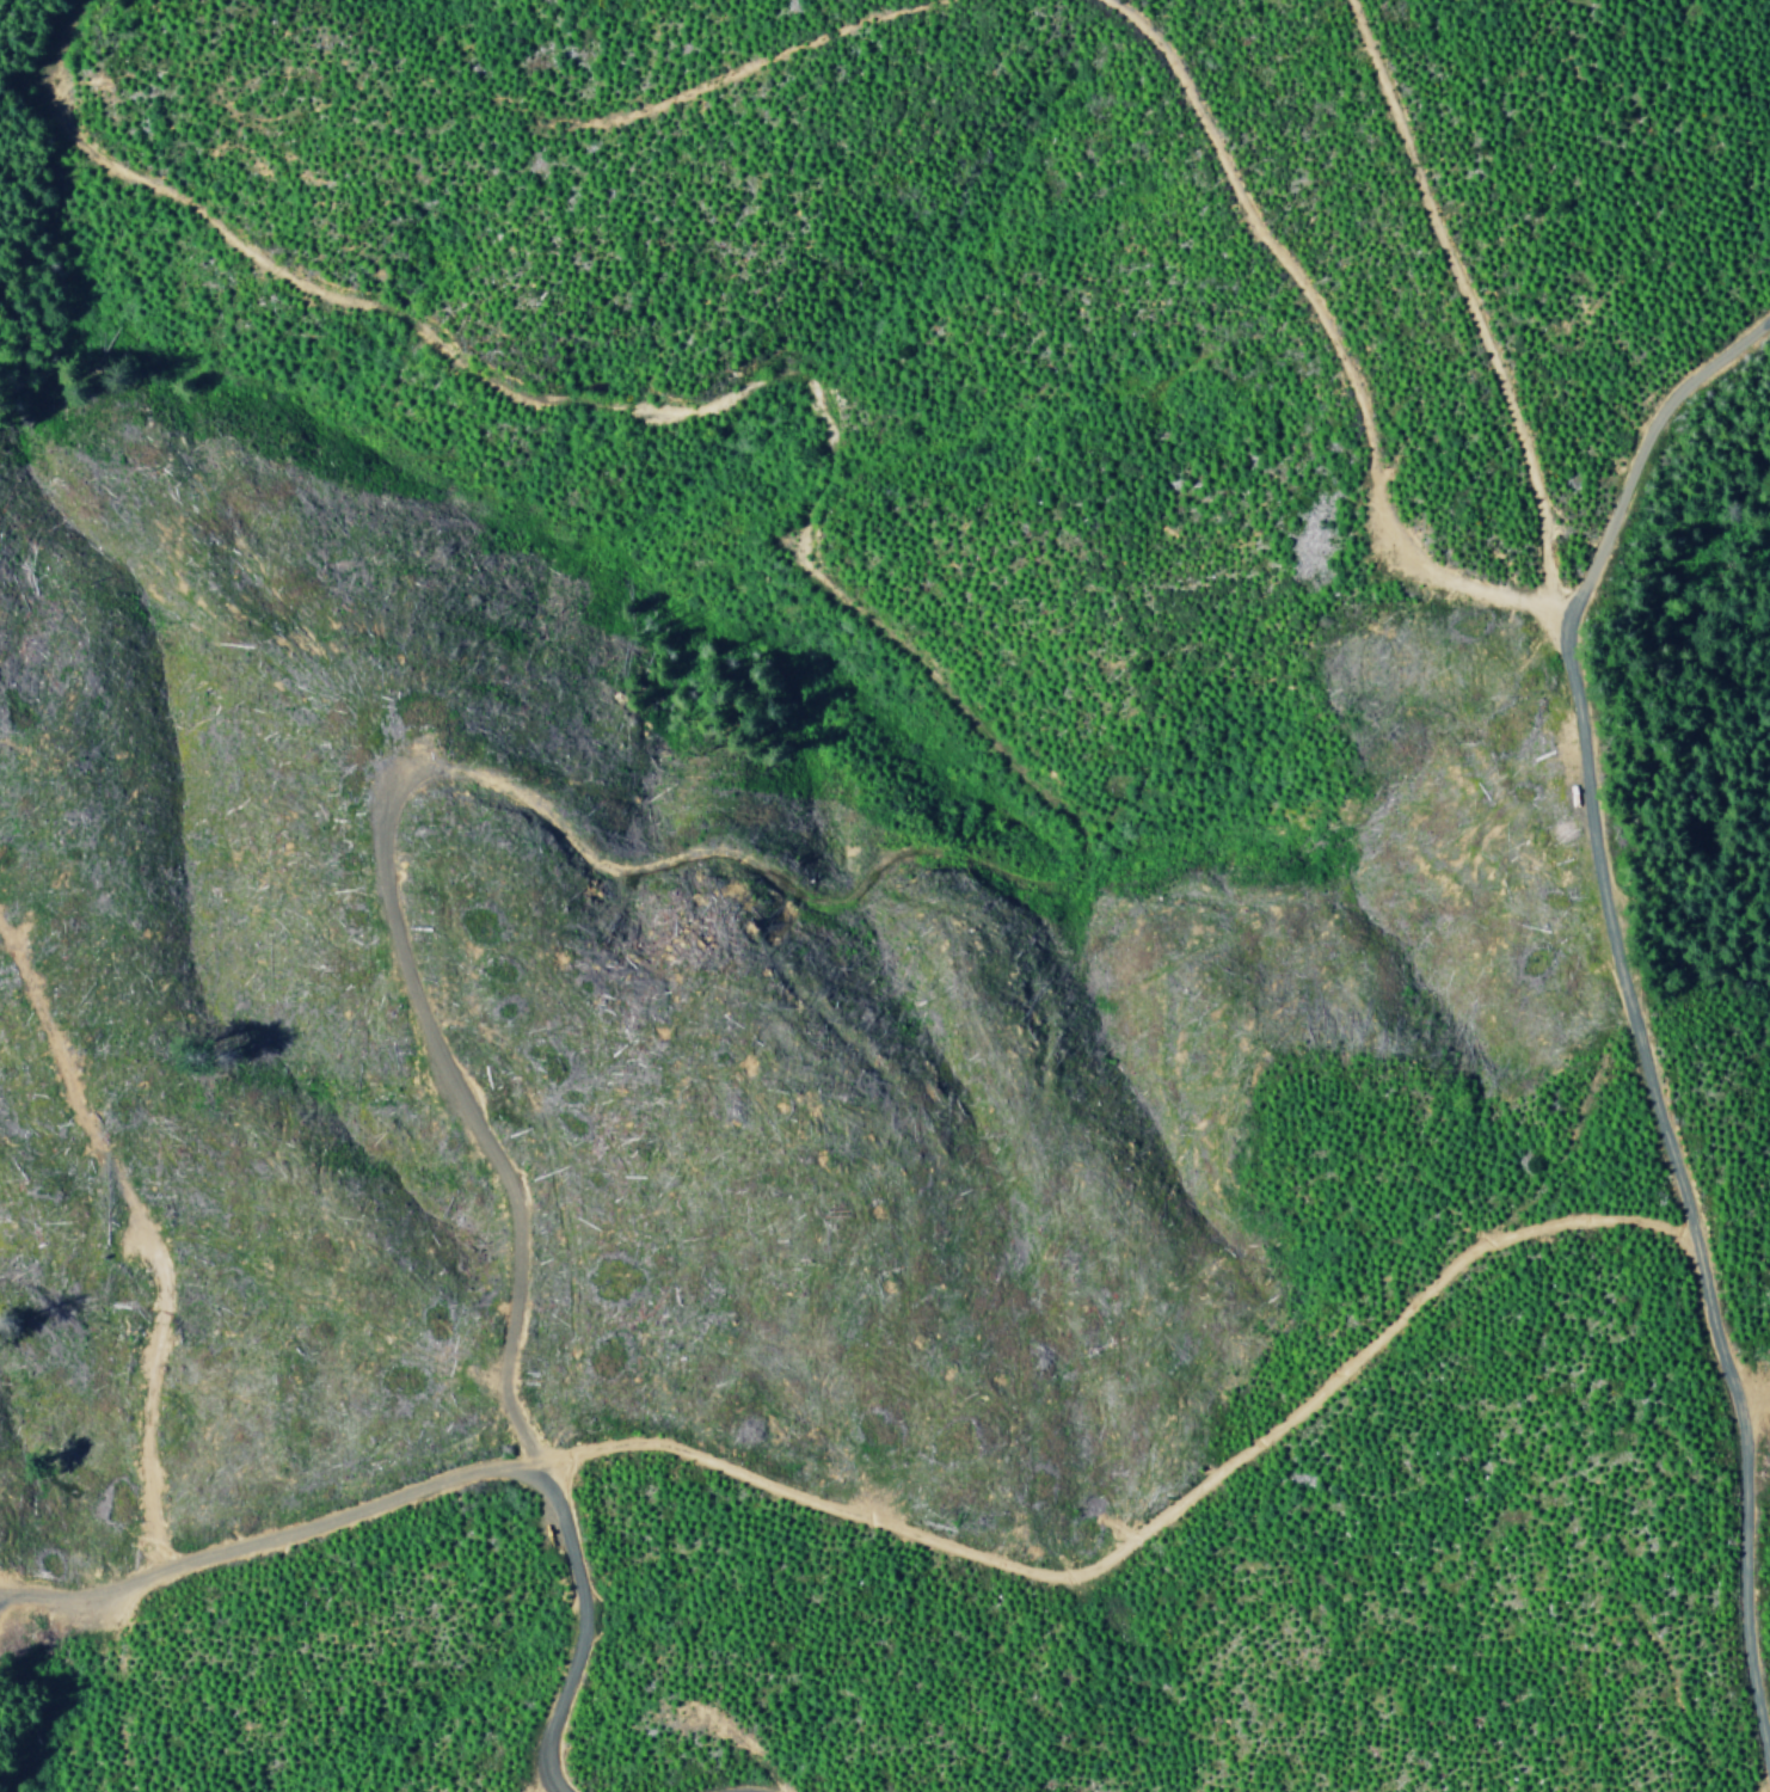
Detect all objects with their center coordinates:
road: (1598, 864)

